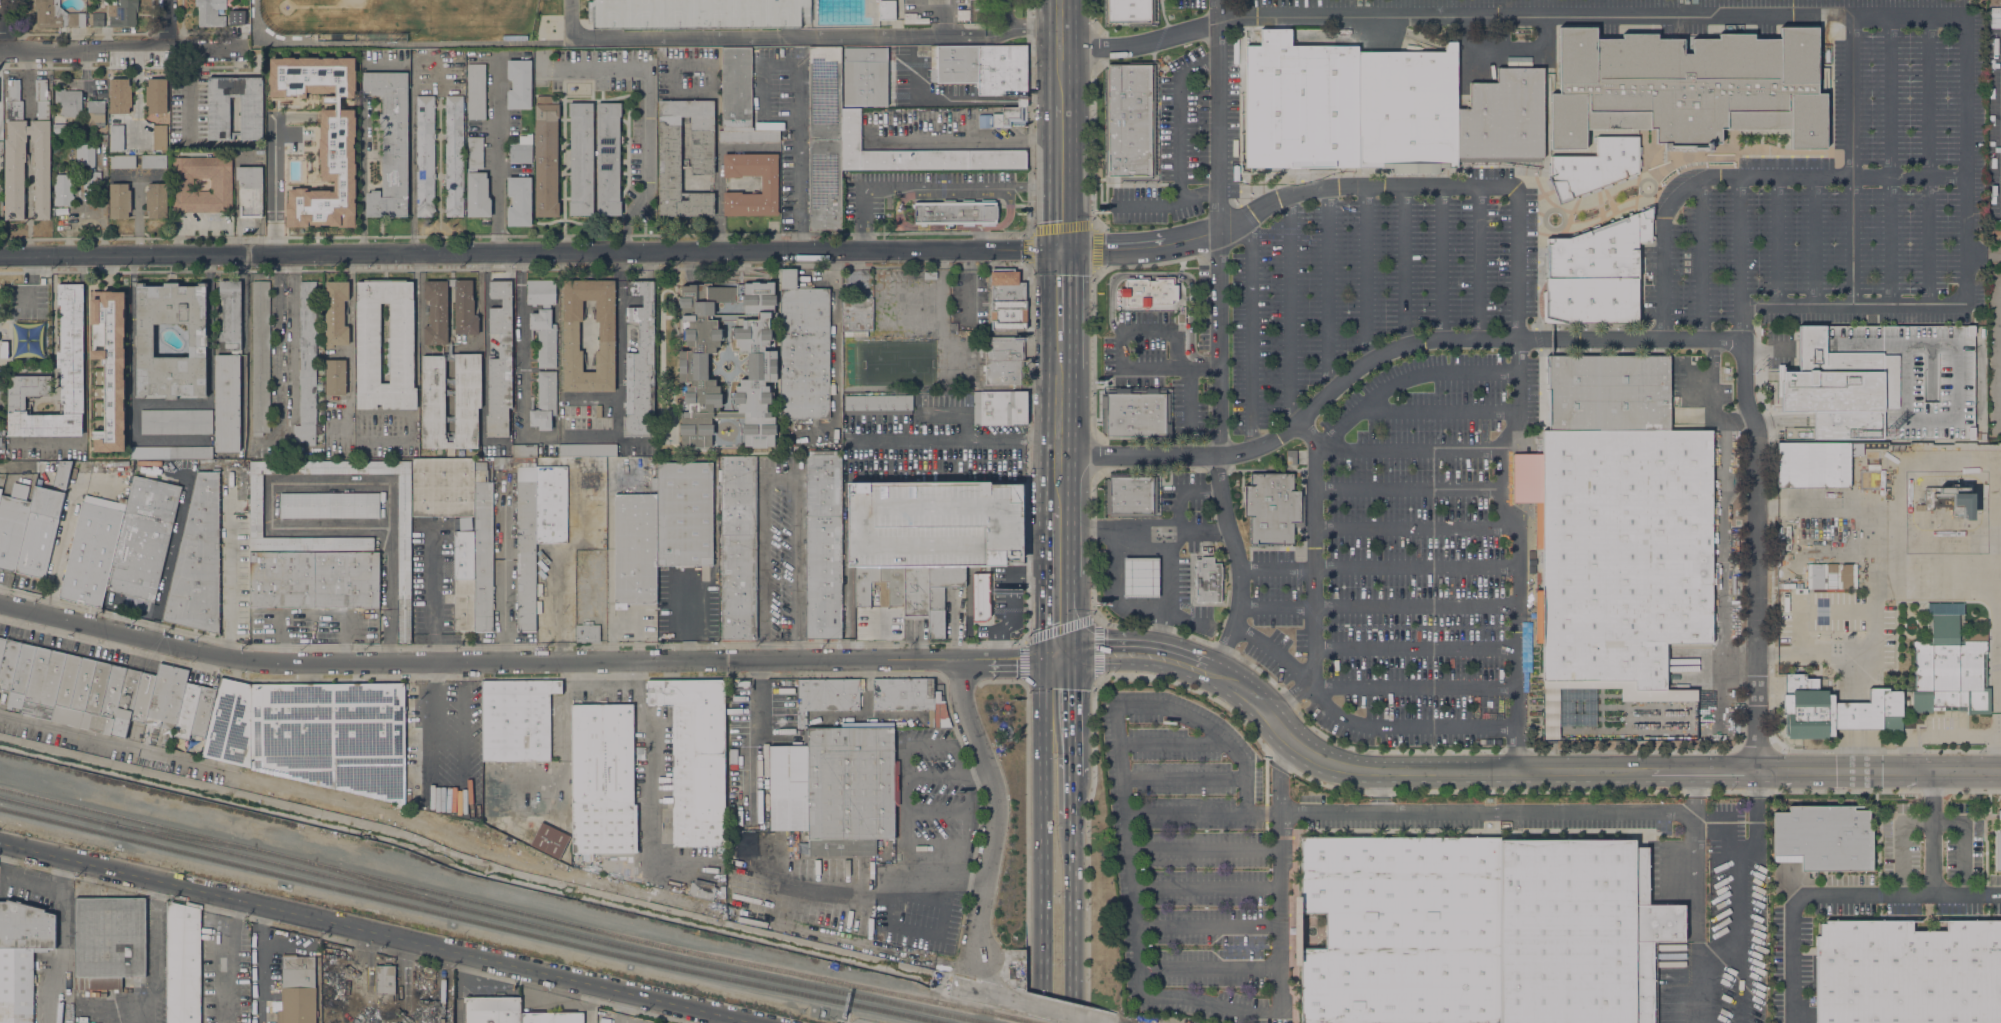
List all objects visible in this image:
building: (89, 1)
building: (1695, 1)
building: (886, 9)
building: (974, 10)
building: (1131, 12)
road: (1009, 13)
building: (124, 14)
building: (216, 14)
building: (696, 14)
road: (1093, 14)
road: (1446, 14)
road: (1908, 14)
building: (56, 15)
building: (96, 19)
building: (914, 19)
road: (167, 22)
road: (6, 24)
road: (793, 35)
road: (117, 44)
road: (1095, 46)
building: (661, 52)
road: (1045, 52)
road: (26, 58)
building: (982, 68)
building: (864, 76)
road: (1071, 82)
building: (519, 84)
building: (736, 87)
building: (1687, 87)
road: (26, 90)
building: (475, 91)
road: (189, 93)
building: (120, 95)
road: (798, 95)
building: (156, 96)
building: (68, 102)
building: (1299, 107)
building: (1408, 111)
road: (1217, 114)
building: (97, 115)
building: (218, 115)
road: (1030, 115)
building: (1007, 116)
building: (984, 120)
building: (1503, 120)
building: (1130, 121)
building: (78, 122)
road: (645, 122)
building: (59, 128)
road: (1178, 132)
building: (749, 136)
building: (117, 137)
building: (159, 137)
building: (323, 137)
building: (825, 138)
road: (972, 141)
building: (390, 143)
road: (1093, 143)
road: (1047, 144)
building: (702, 146)
building: (1, 147)
building: (521, 150)
building: (14, 152)
road: (496, 152)
building: (918, 153)
building: (425, 156)
building: (453, 156)
road: (412, 157)
building: (546, 157)
building: (581, 159)
building: (608, 159)
road: (1852, 159)
road: (1890, 159)
road: (1927, 159)
road: (1964, 159)
building: (122, 161)
building: (153, 161)
building: (1597, 165)
building: (88, 166)
road: (1851, 176)
building: (477, 181)
building: (221, 184)
road: (274, 184)
building: (769, 184)
road: (1525, 184)
road: (953, 186)
building: (63, 189)
parking lot: (1850, 189)
road: (905, 190)
building: (250, 191)
road: (886, 192)
road: (1680, 192)
road: (1288, 193)
road: (28, 194)
road: (956, 194)
building: (156, 200)
building: (119, 201)
building: (519, 201)
road: (1147, 204)
road: (1072, 207)
building: (955, 212)
road: (1047, 217)
road: (863, 221)
road: (28, 226)
road: (1065, 227)
road: (953, 229)
road: (1776, 240)
road: (1815, 240)
road: (28, 245)
traffic signals: (1072, 249)
traffic signals: (1048, 250)
road: (1060, 250)
road: (523, 252)
road: (1701, 258)
road: (1740, 258)
road: (520, 260)
road: (1441, 261)
road: (1478, 261)
road: (1517, 262)
road: (53, 263)
road: (81, 263)
road: (1403, 265)
road: (1365, 273)
building: (1595, 273)
building: (930, 275)
road: (1180, 276)
parking lot: (1372, 282)
road: (1327, 288)
building: (1147, 291)
building: (541, 292)
road: (1662, 293)
building: (1007, 300)
road: (1852, 305)
building: (465, 309)
road: (54, 310)
road: (1289, 310)
building: (436, 312)
building: (336, 313)
building: (856, 316)
park: (25, 324)
road: (1251, 332)
building: (571, 335)
road: (293, 336)
building: (544, 337)
building: (197, 340)
road: (1219, 341)
road: (276, 343)
building: (368, 343)
parking lot: (1138, 348)
building: (803, 349)
road: (836, 349)
building: (4, 350)
road: (1123, 350)
road: (1381, 352)
road: (1092, 354)
building: (260, 356)
building: (1004, 359)
building: (69, 360)
road: (617, 360)
building: (500, 361)
building: (307, 363)
road: (523, 365)
building: (640, 365)
building: (693, 366)
building: (108, 368)
building: (228, 370)
road: (1404, 376)
building: (336, 377)
road: (1044, 379)
building: (1884, 382)
road: (1071, 387)
road: (83, 390)
building: (1607, 393)
road: (591, 397)
building: (468, 401)
building: (544, 401)
road: (1191, 401)
building: (878, 402)
building: (999, 407)
road: (1437, 409)
building: (598, 411)
building: (1136, 414)
building: (176, 421)
road: (590, 435)
road: (964, 438)
road: (1408, 448)
building: (587, 450)
building: (171, 452)
road: (1027, 454)
road: (1094, 454)
building: (1291, 457)
building: (1813, 465)
building: (62, 473)
road: (776, 479)
building: (442, 486)
road: (1408, 488)
building: (0, 492)
building: (1130, 494)
building: (1951, 499)
building: (329, 505)
building: (1272, 506)
railway: (1057, 511)
building: (684, 514)
building: (534, 520)
building: (12, 525)
road: (1056, 525)
road: (1149, 525)
road: (298, 526)
road: (1417, 526)
building: (39, 532)
building: (143, 538)
building: (823, 544)
road: (1092, 545)
building: (738, 548)
building: (635, 549)
road: (1517, 549)
building: (92, 550)
road: (1314, 550)
building: (1620, 555)
road: (1757, 557)
building: (475, 560)
building: (197, 561)
road: (1238, 563)
parking lot: (1398, 563)
road: (1950, 566)
road: (1165, 567)
road: (1300, 567)
road: (1378, 568)
road: (504, 573)
building: (1814, 575)
building: (1141, 577)
gas station: (1141, 577)
gas station: (1141, 577)
building: (1836, 577)
building: (314, 579)
road: (228, 580)
building: (1208, 580)
road: (1043, 584)
building: (864, 586)
road: (1300, 586)
road: (1113, 587)
road: (1070, 588)
building: (915, 590)
road: (433, 594)
building: (979, 595)
building: (404, 597)
building: (941, 597)
road: (1376, 605)
road: (1311, 611)
road: (1185, 617)
road: (1102, 621)
road: (686, 622)
road: (1068, 626)
road: (1414, 626)
road: (1520, 626)
road: (1158, 630)
building: (587, 633)
building: (2, 647)
road: (1415, 647)
road: (1112, 648)
traffic signals: (1071, 651)
road: (1057, 655)
road: (1182, 657)
traffic signals: (1043, 659)
road: (517, 662)
building: (9, 663)
building: (1949, 665)
building: (23, 668)
building: (43, 683)
road: (1414, 686)
building: (88, 694)
building: (904, 695)
building: (826, 696)
building: (143, 697)
road: (1290, 699)
building: (18, 701)
building: (10, 702)
building: (125, 702)
building: (180, 703)
building: (1836, 710)
road: (1071, 713)
building: (517, 719)
road: (1356, 722)
building: (305, 723)
road: (749, 740)
road: (1173, 743)
road: (123, 745)
building: (639, 752)
building: (695, 758)
road: (1587, 770)
road: (1280, 774)
road: (1181, 776)
building: (602, 779)
road: (653, 785)
building: (836, 789)
road: (1379, 790)
road: (1072, 797)
road: (451, 805)
road: (998, 806)
road: (1507, 810)
road: (1182, 813)
railway: (155, 824)
road: (905, 825)
road: (1934, 832)
railway: (181, 835)
road: (1086, 838)
building: (1823, 838)
building: (550, 840)
road: (1043, 841)
building: (1997, 843)
road: (1205, 848)
road: (1027, 852)
parking lot: (1239, 858)
road: (1694, 869)
road: (16, 879)
railway: (378, 882)
road: (610, 885)
road: (807, 887)
road: (1207, 887)
building: (702, 889)
road: (1803, 895)
road: (1967, 895)
road: (1134, 900)
road: (1754, 902)
railway: (492, 914)
railway: (467, 918)
road: (1072, 921)
road: (220, 922)
road: (1208, 925)
building: (1401, 929)
road: (377, 932)
building: (1578, 932)
road: (63, 939)
building: (108, 941)
railway: (666, 945)
building: (21, 956)
road: (381, 961)
building: (183, 963)
road: (258, 963)
road: (1210, 968)
building: (1908, 972)
road: (153, 974)
building: (385, 982)
road: (996, 984)
building: (297, 990)
building: (492, 1009)
building: (338, 1012)
road: (1060, 1014)
building: (552, 1017)
railway: (1030, 1021)

